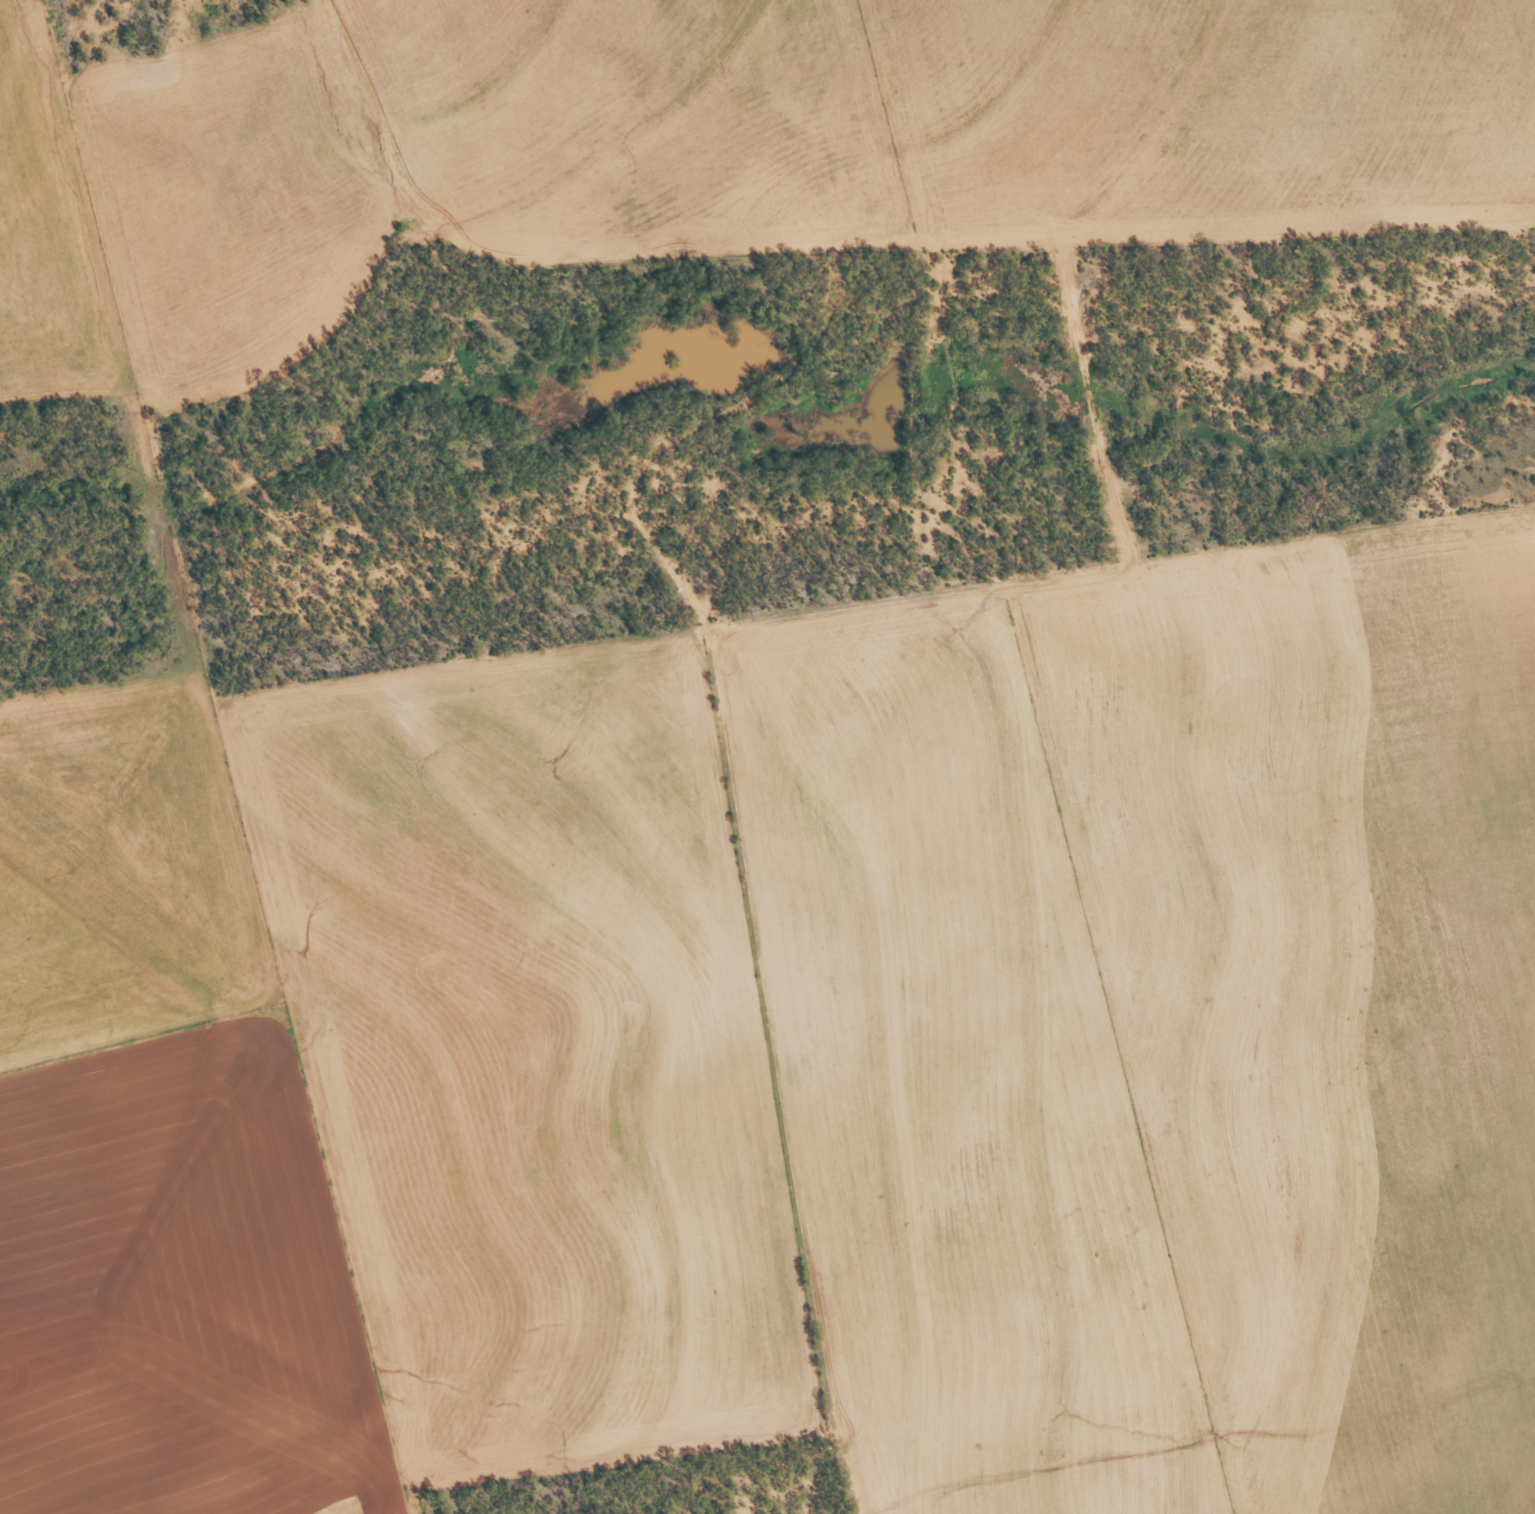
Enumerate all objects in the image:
road: (293, 34)

